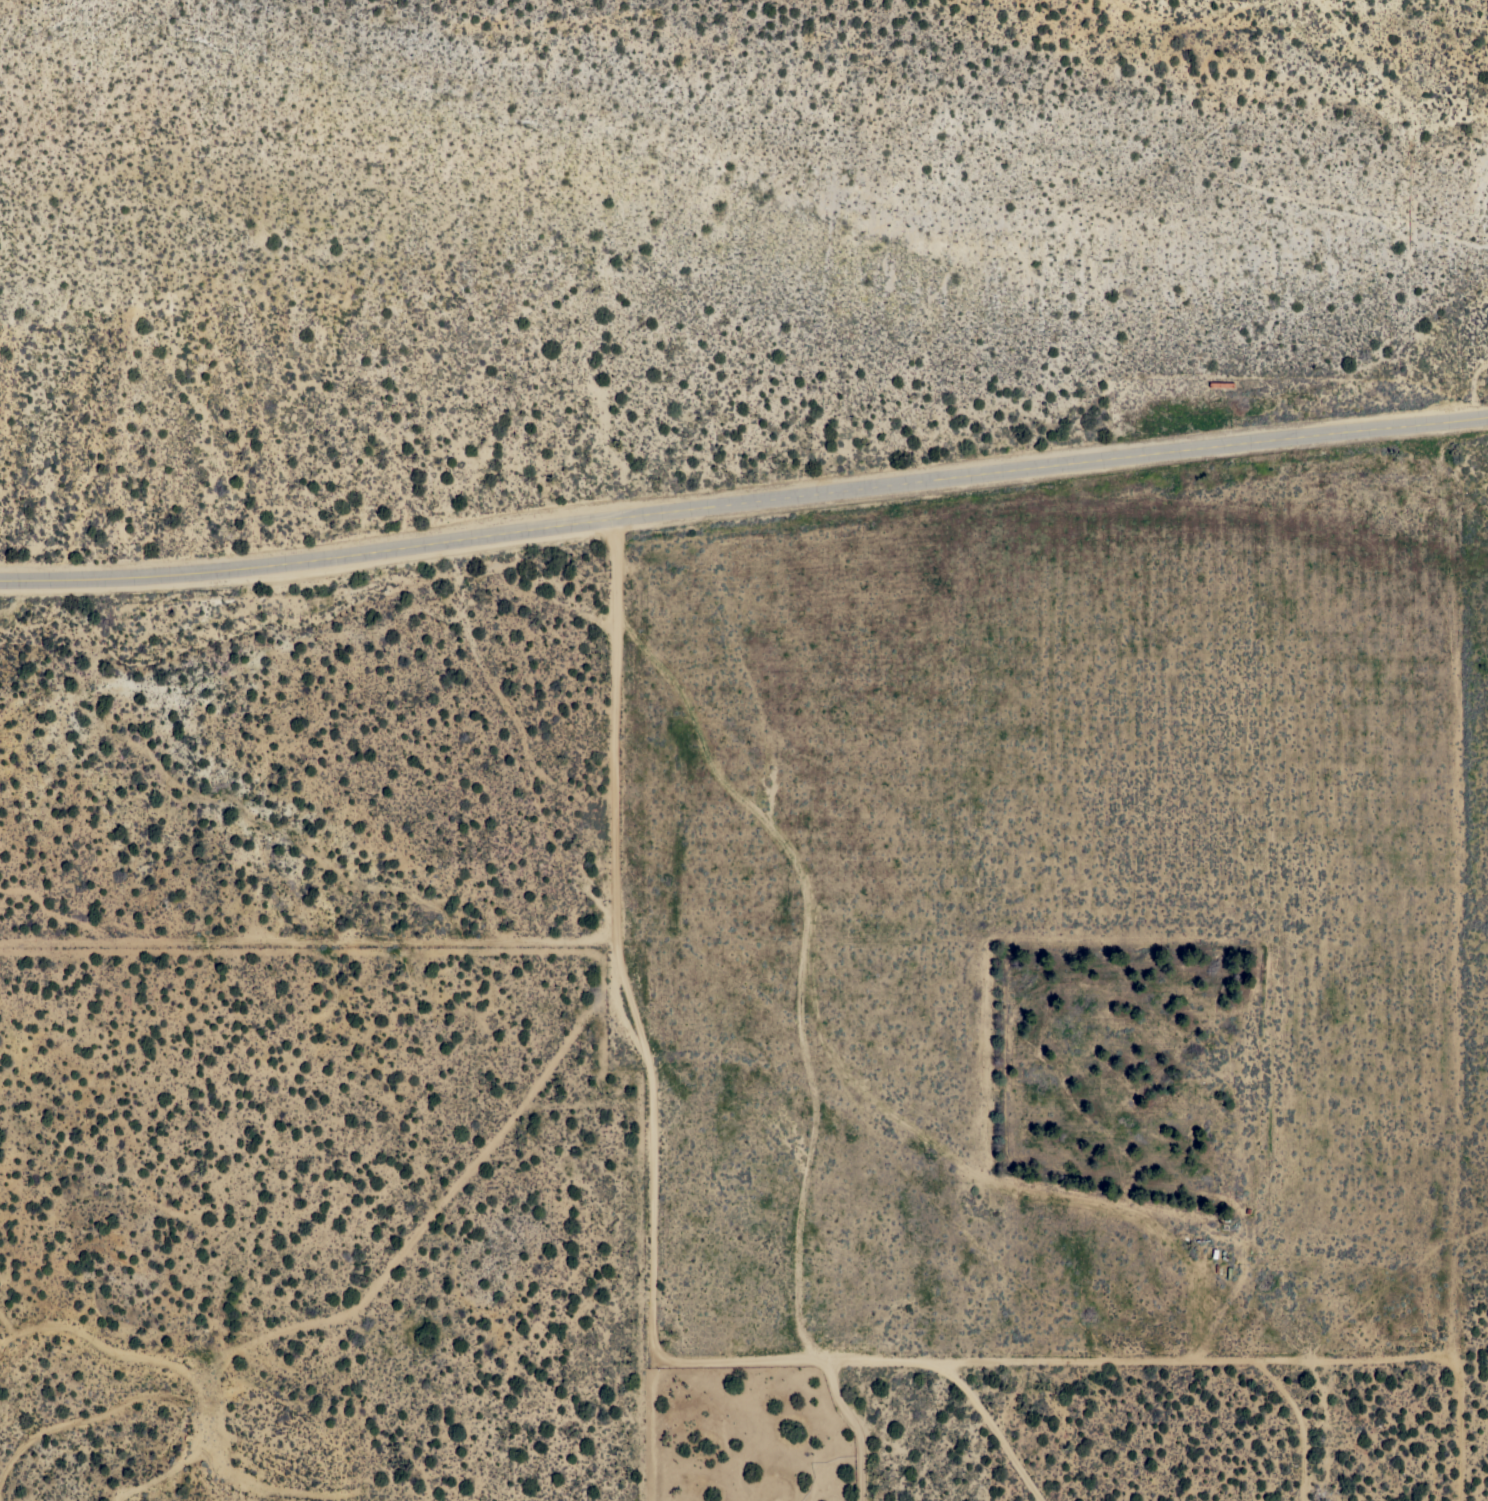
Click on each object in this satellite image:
road: (744, 499)
road: (617, 940)
road: (818, 1361)
road: (961, 1381)

